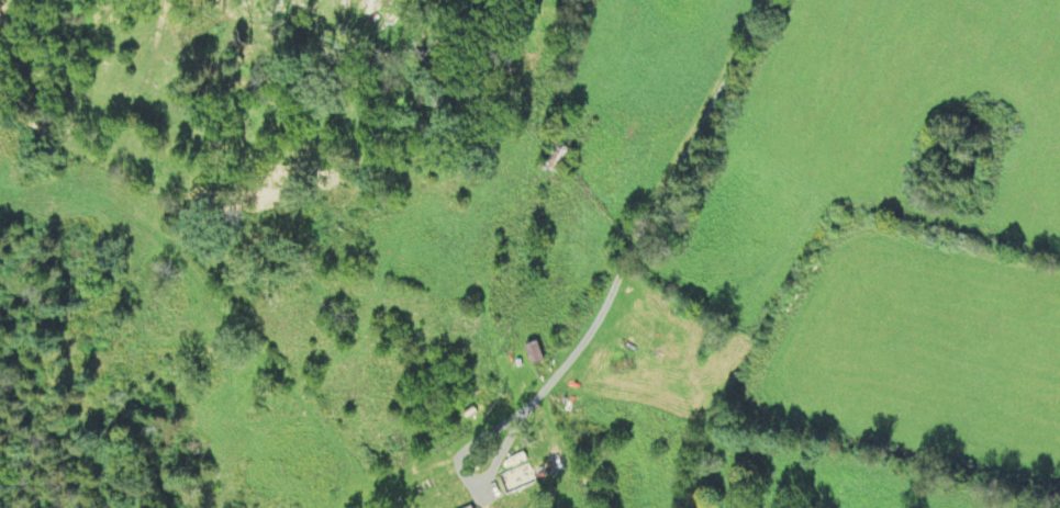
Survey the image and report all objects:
building: (380, 22)
building: (559, 161)
road: (657, 202)
building: (531, 352)
road: (336, 429)
building: (506, 476)
building: (425, 489)

